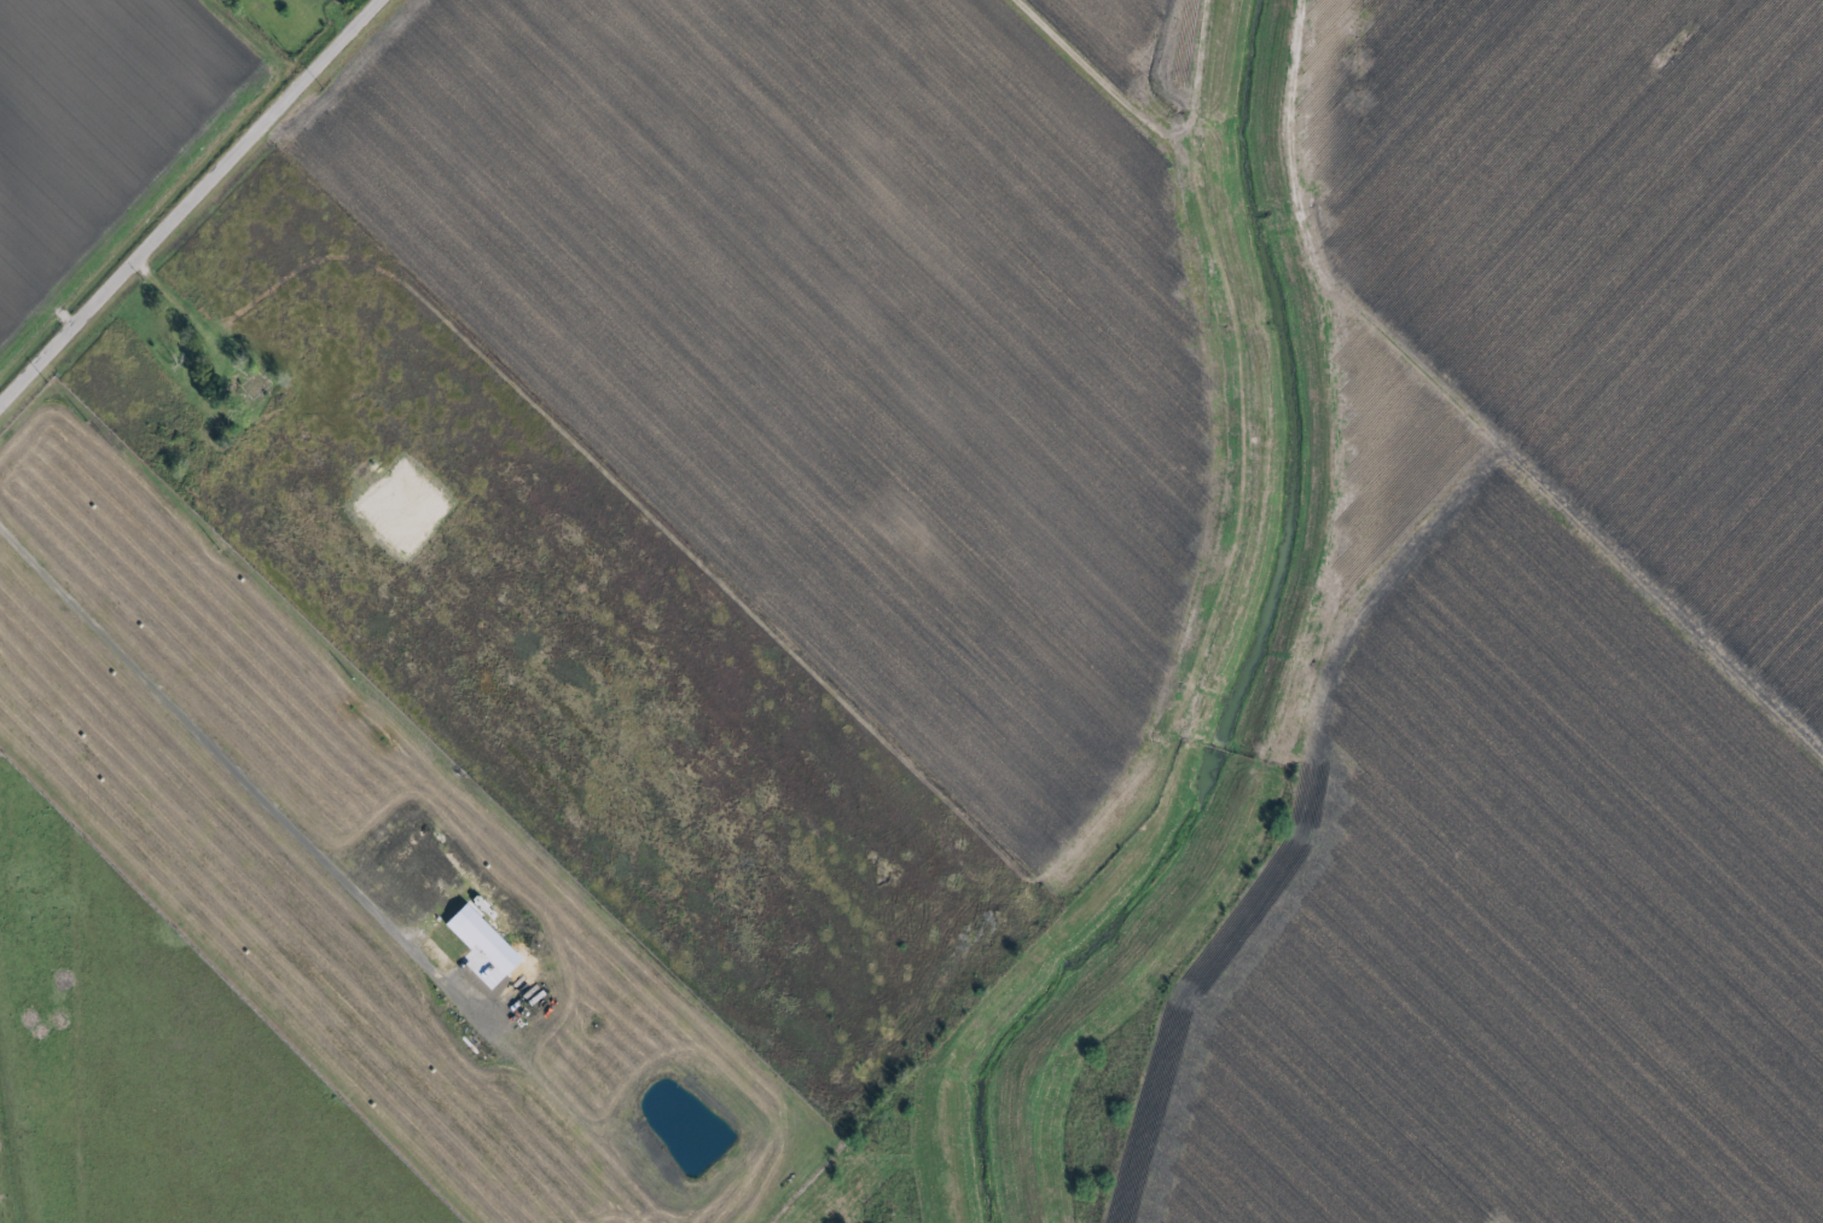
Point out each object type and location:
road: (191, 205)
road: (1238, 504)
road: (234, 770)

